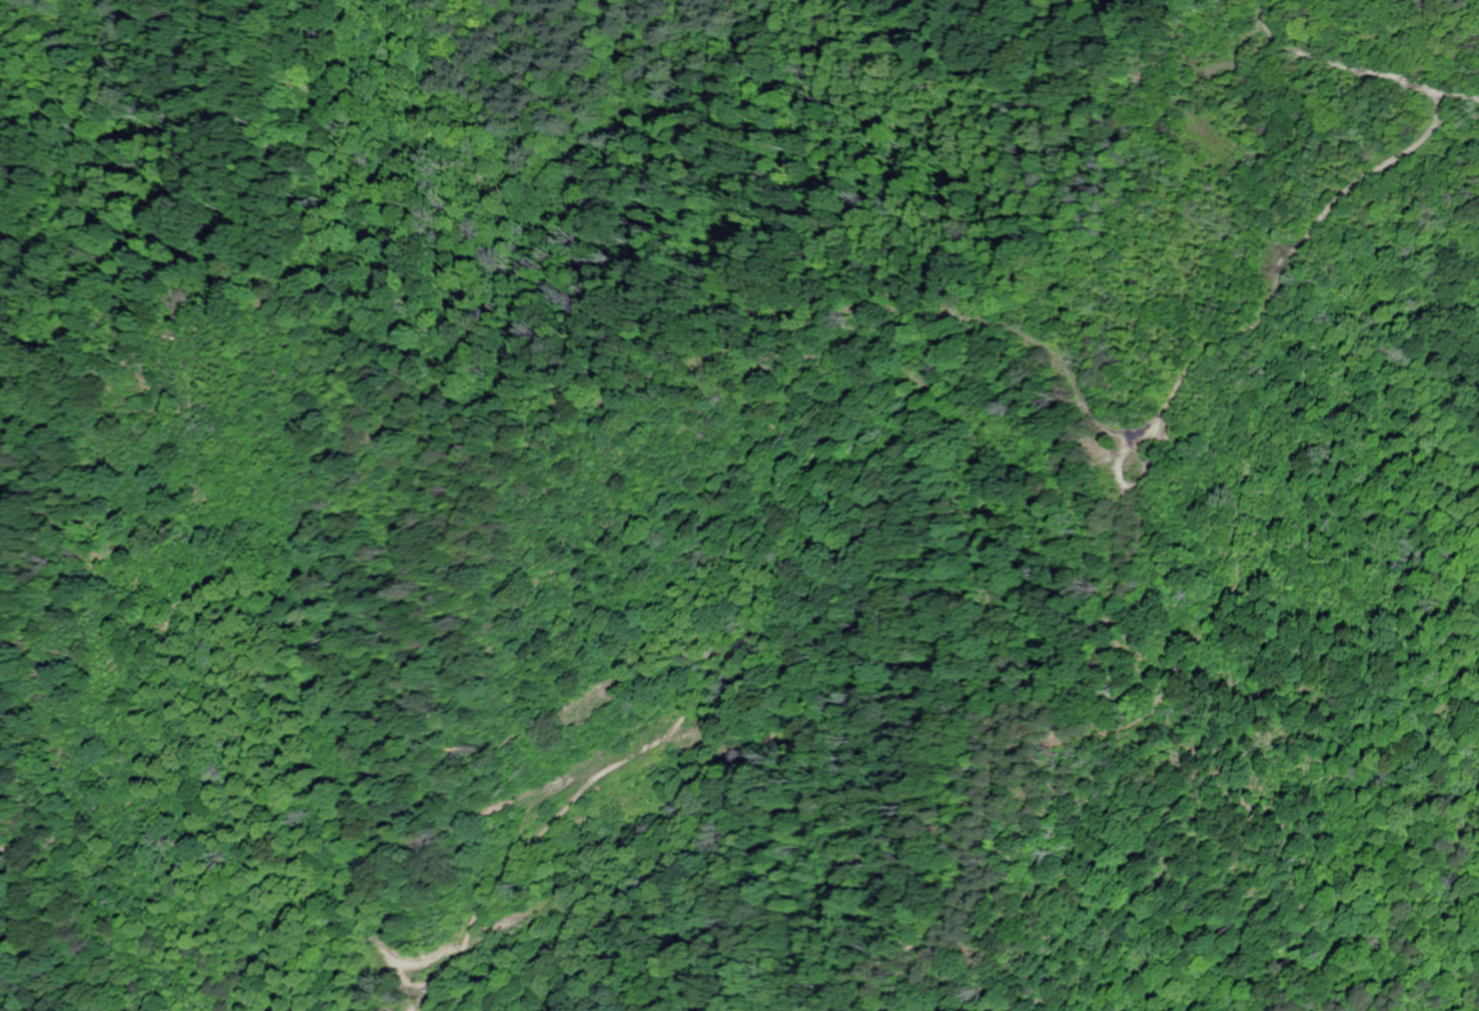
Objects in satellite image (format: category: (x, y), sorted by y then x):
road: (1009, 405)
road: (784, 643)

